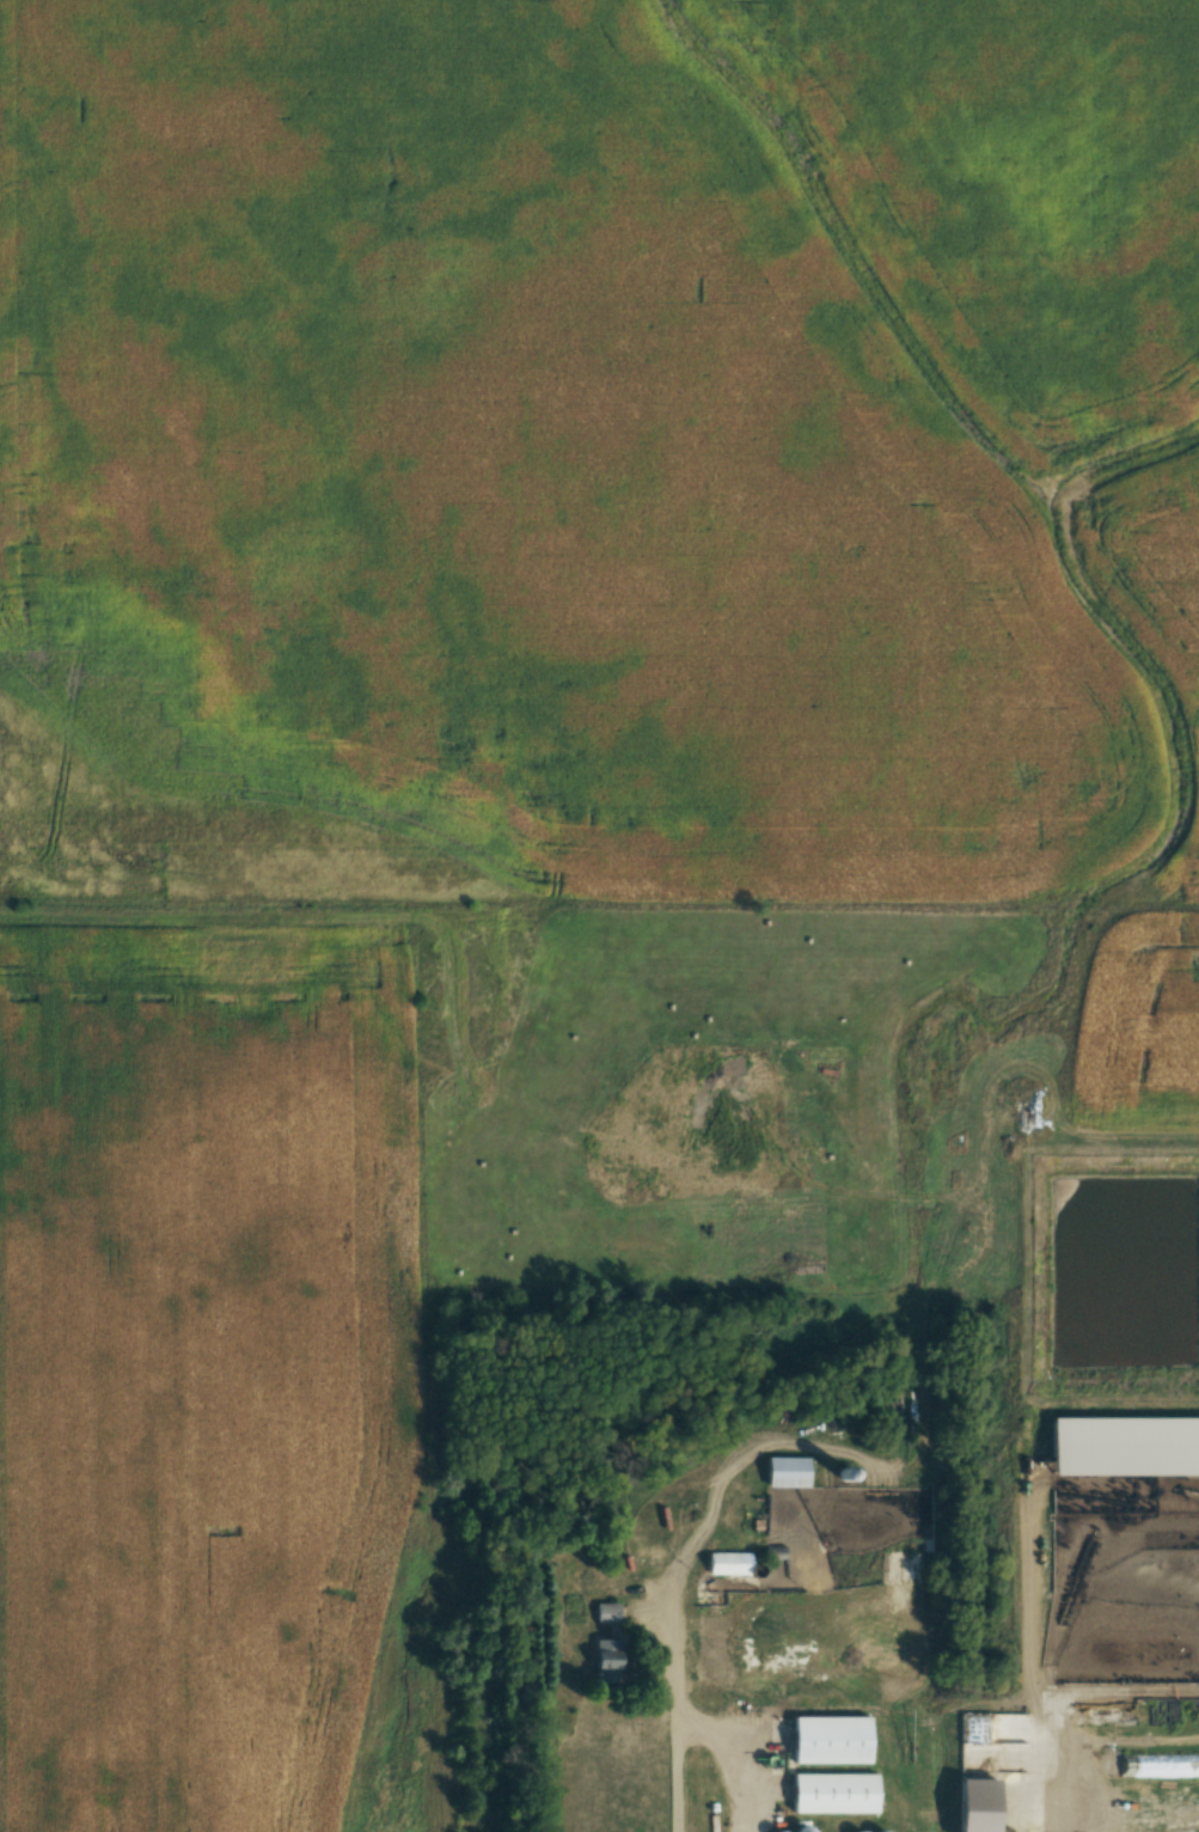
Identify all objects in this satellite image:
building: (783, 1473)
building: (736, 1564)
building: (607, 1614)
building: (602, 1653)
road: (1027, 1653)
road: (705, 1721)
building: (828, 1740)
building: (832, 1794)

